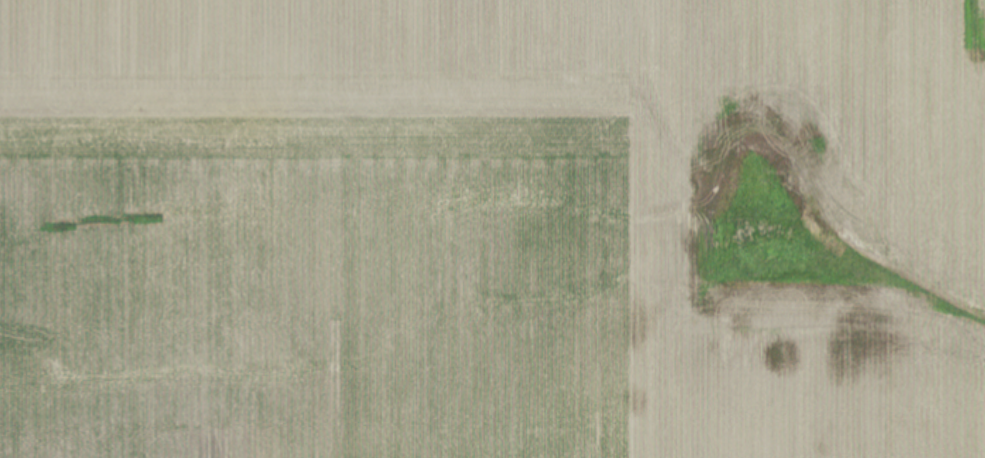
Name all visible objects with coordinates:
crop: (492, 229)

